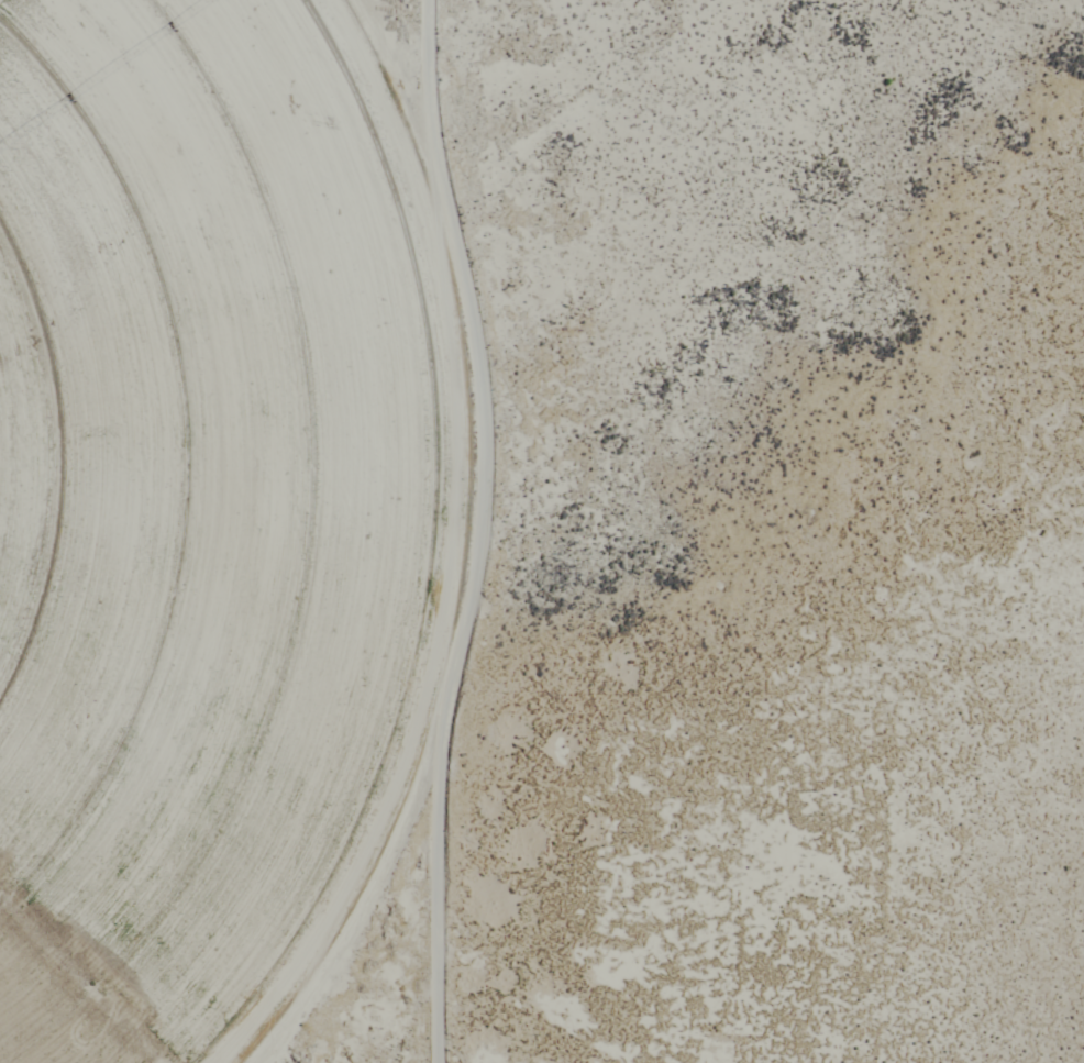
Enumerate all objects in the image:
crop: (191, 514)
road: (478, 530)

